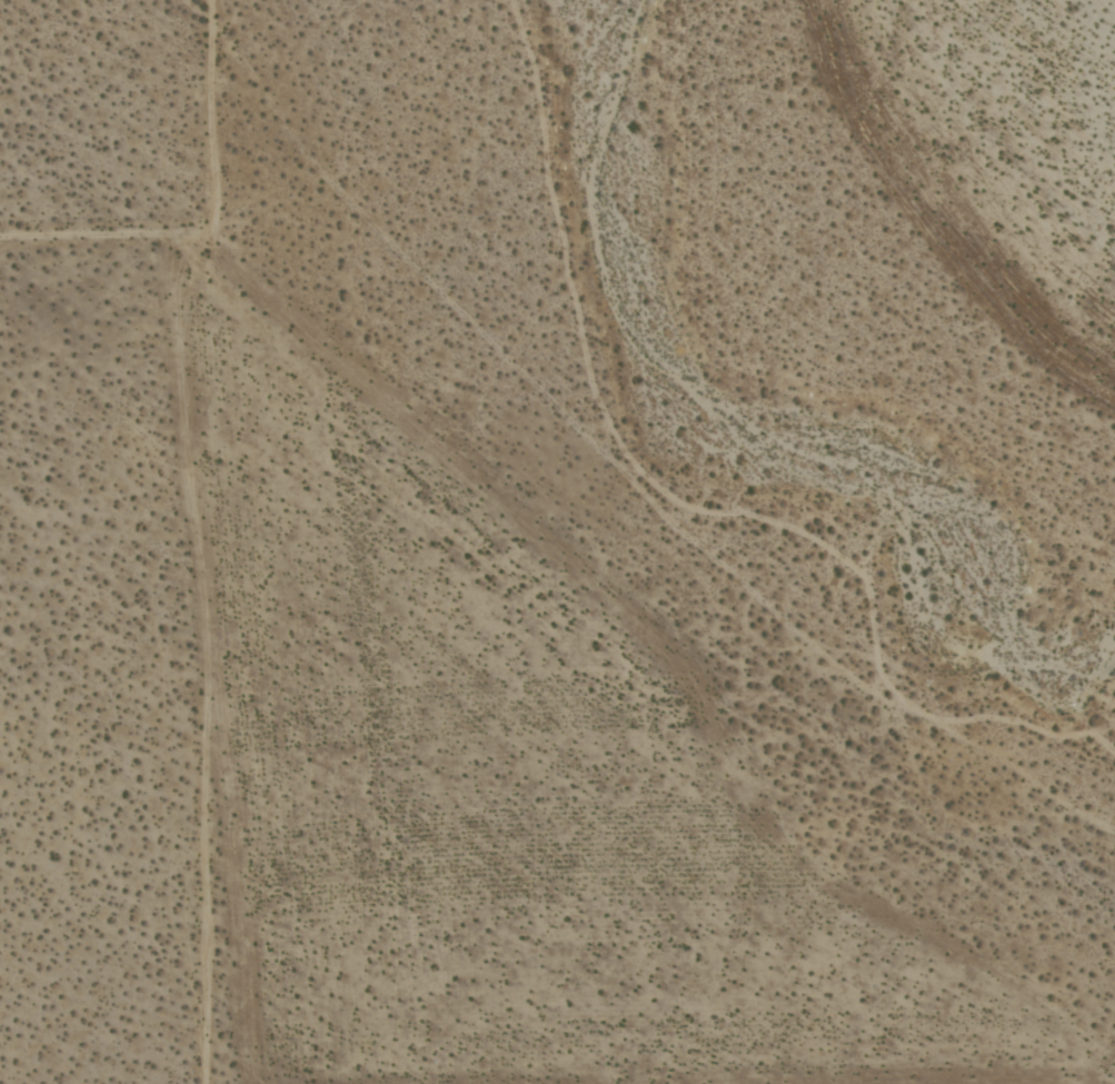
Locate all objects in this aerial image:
road: (106, 236)
road: (201, 541)

